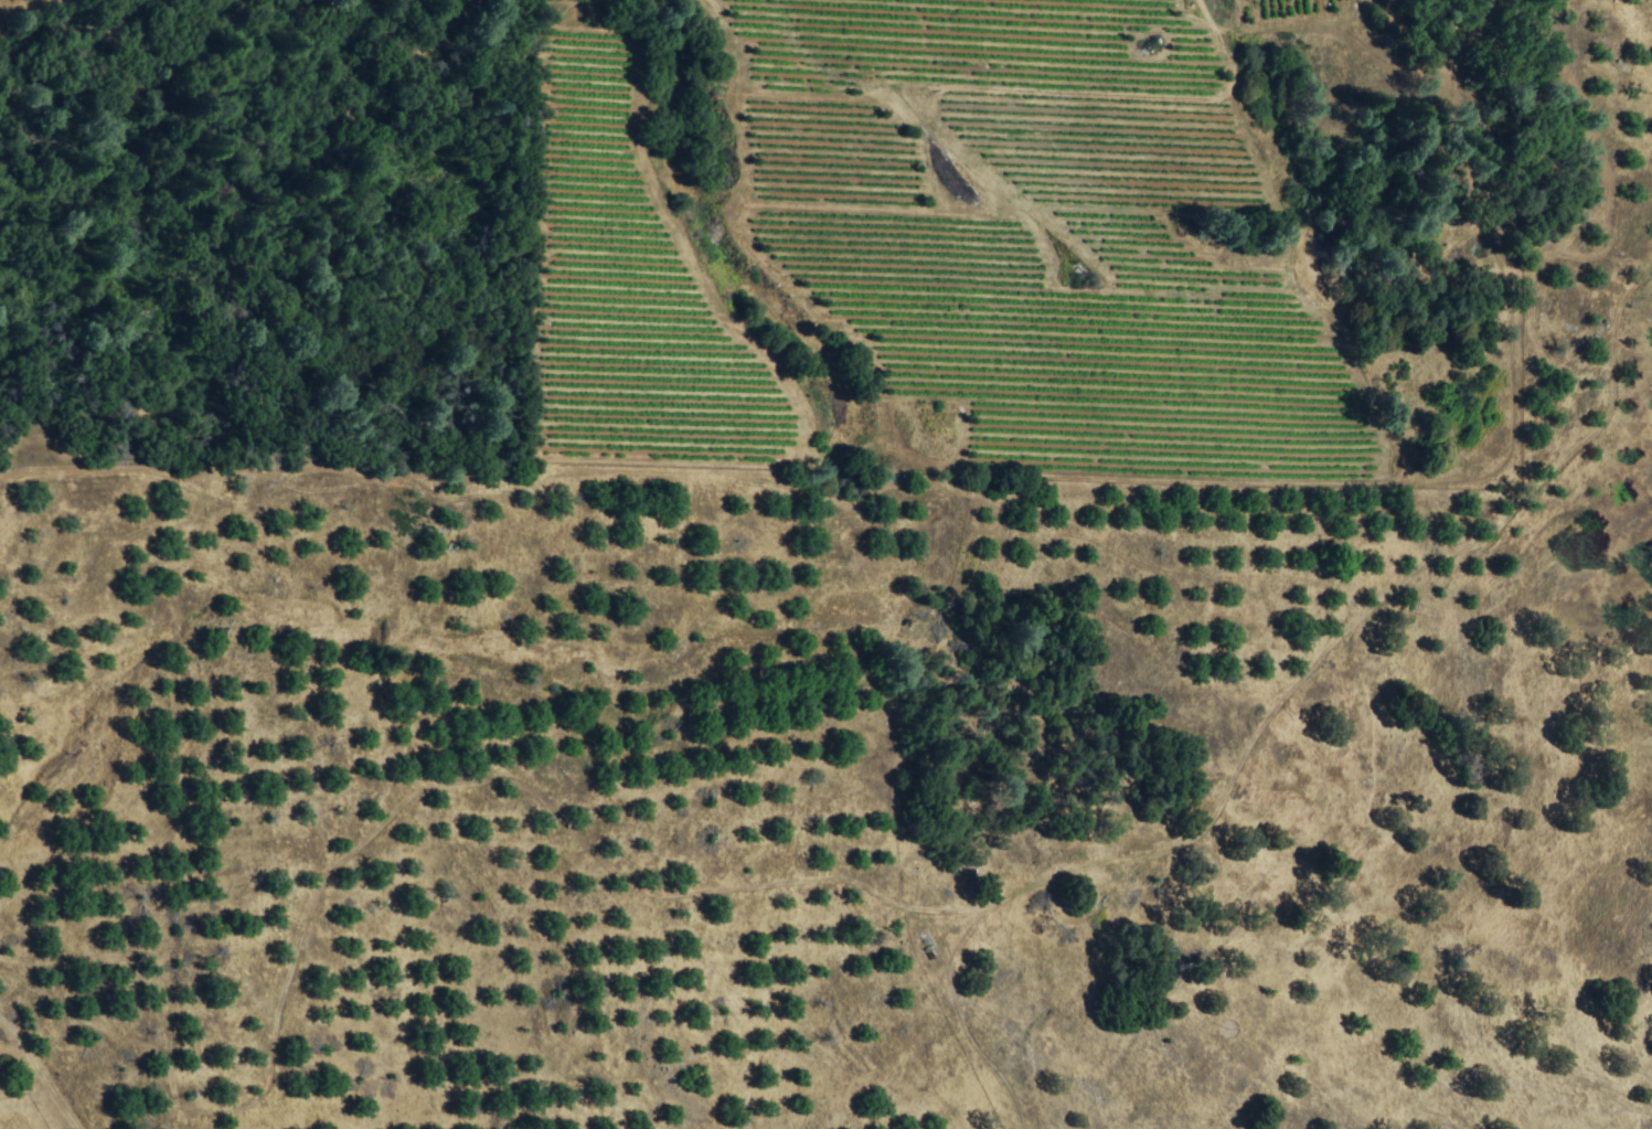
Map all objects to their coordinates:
road: (41, 1067)

